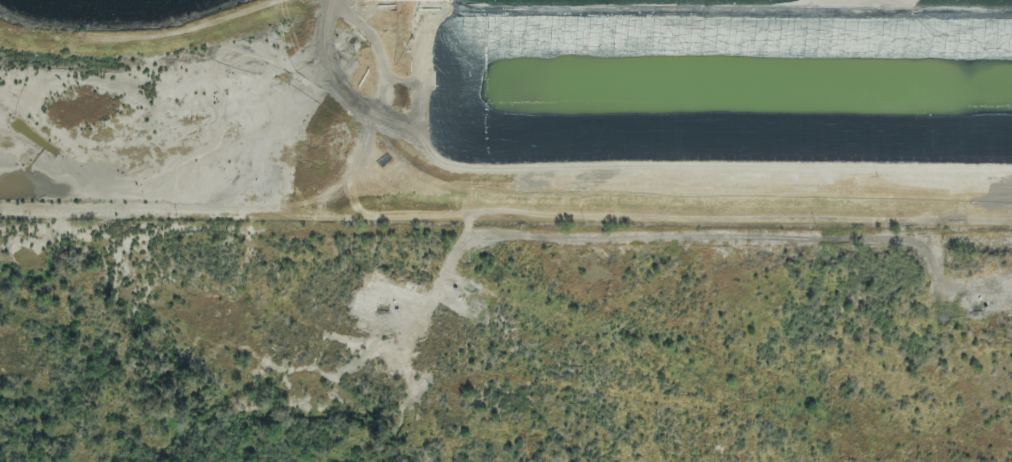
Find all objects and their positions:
power plant: (509, 109)

